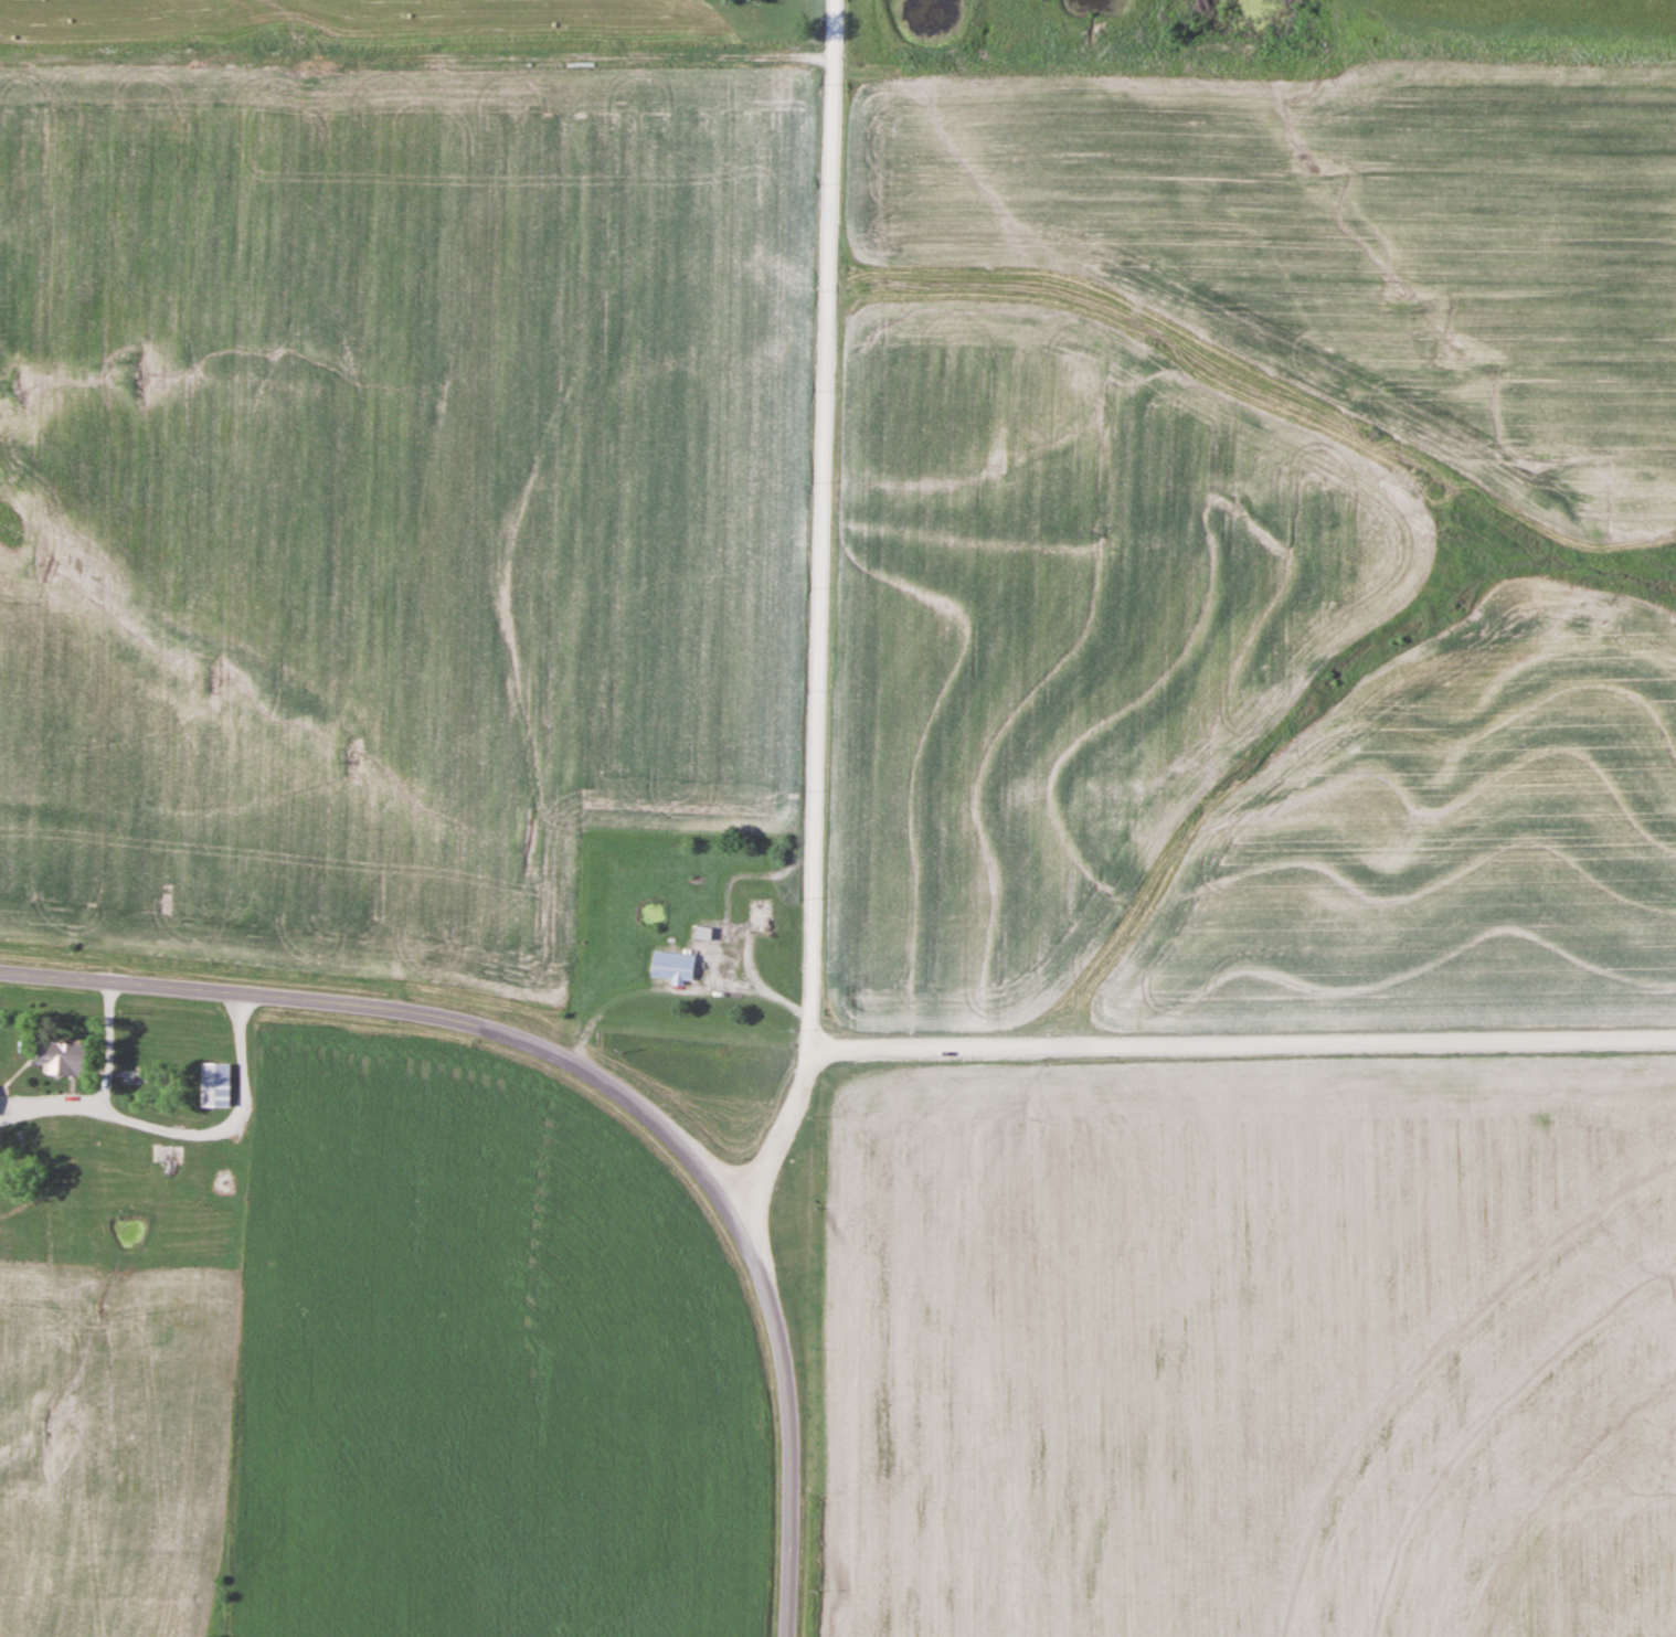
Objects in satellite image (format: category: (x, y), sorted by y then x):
road: (824, 523)
building: (673, 967)
road: (1248, 1044)
building: (62, 1057)
road: (604, 1082)
building: (215, 1084)
road: (46, 1108)
road: (779, 1129)
road: (160, 1131)
building: (223, 1182)

